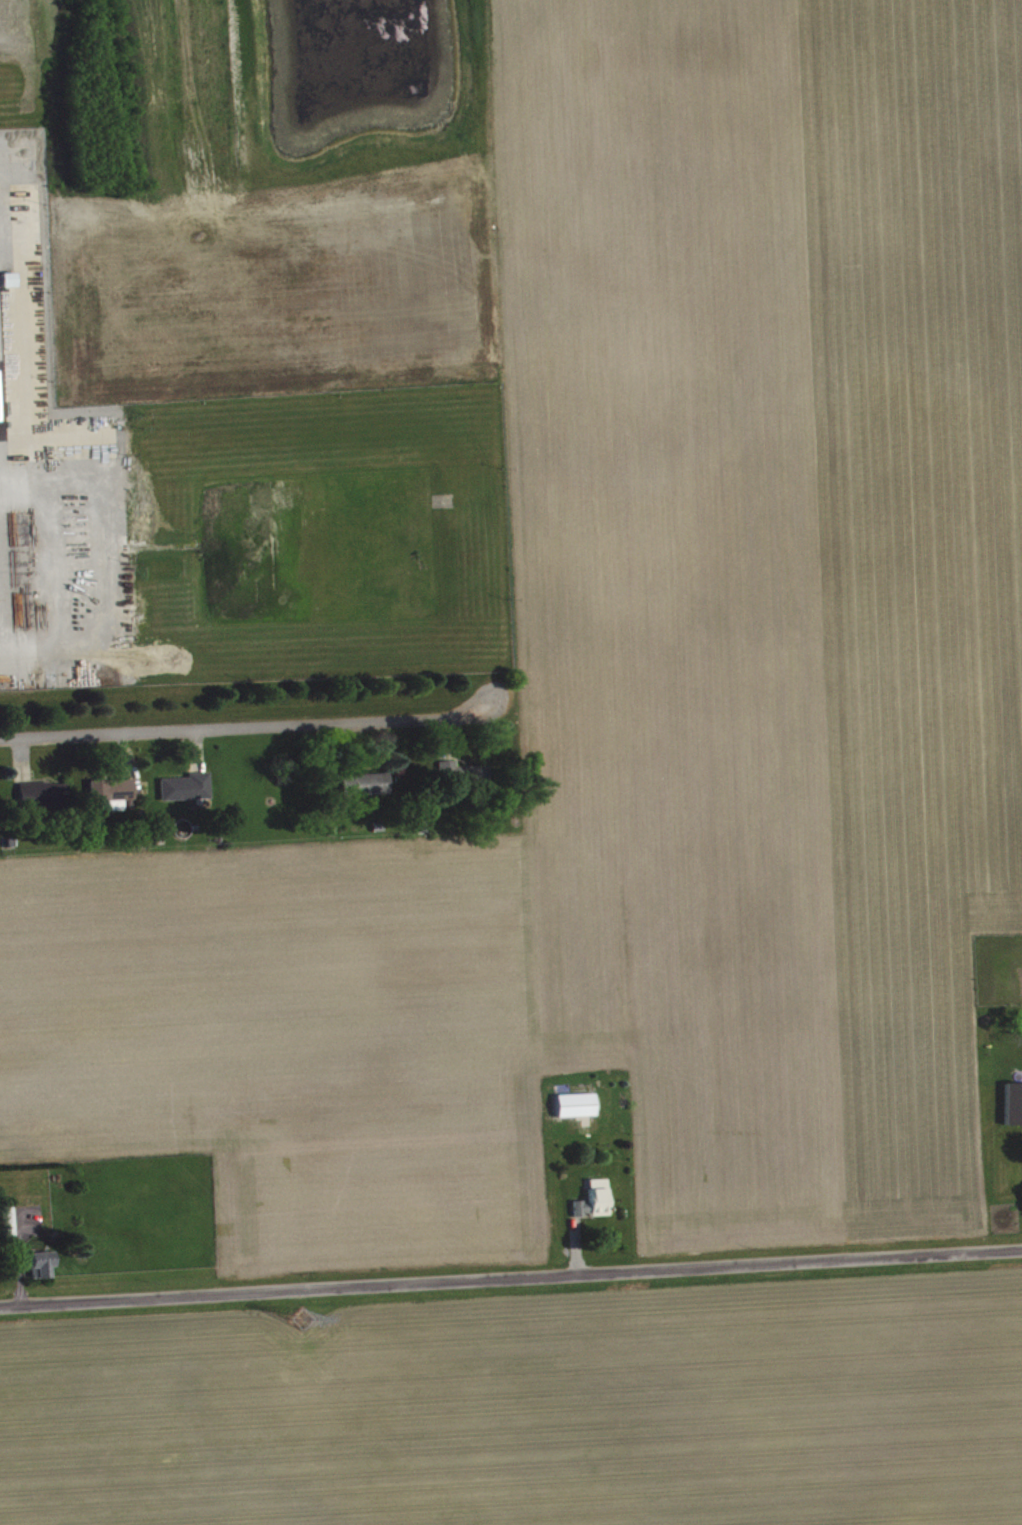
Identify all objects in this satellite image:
road: (2, 435)
road: (251, 726)
building: (371, 790)
building: (188, 793)
building: (123, 794)
building: (43, 800)
building: (1013, 1110)
building: (577, 1111)
building: (595, 1206)
building: (8, 1228)
building: (43, 1270)
road: (511, 1279)
power tower: (301, 1321)

